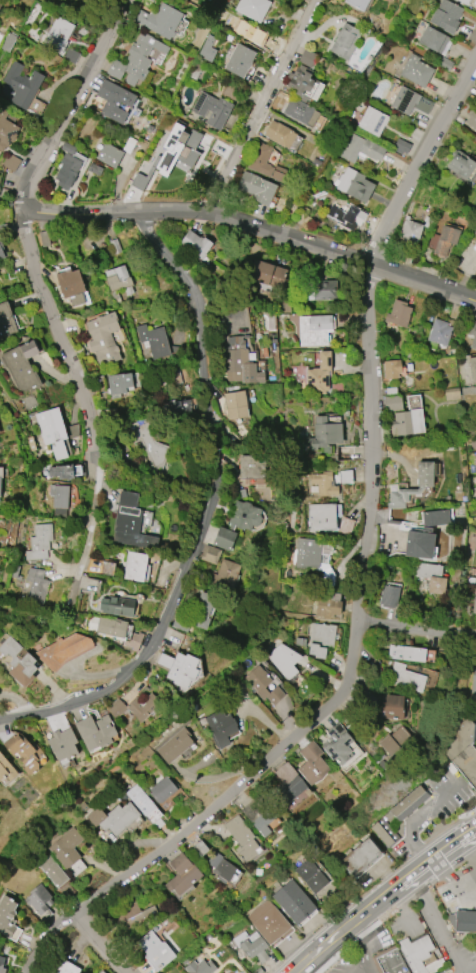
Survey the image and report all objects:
building: (463, 1)
building: (0, 4)
building: (357, 4)
building: (252, 8)
building: (446, 16)
building: (159, 20)
building: (57, 34)
building: (433, 39)
building: (344, 41)
building: (7, 42)
building: (270, 43)
building: (207, 48)
building: (307, 58)
building: (136, 59)
building: (239, 60)
building: (416, 70)
building: (302, 82)
building: (21, 84)
building: (404, 100)
building: (114, 101)
road: (69, 102)
road: (268, 107)
building: (211, 109)
building: (300, 112)
building: (471, 117)
building: (372, 121)
building: (6, 130)
building: (279, 134)
building: (360, 149)
building: (177, 150)
building: (109, 155)
building: (10, 162)
building: (263, 162)
building: (460, 164)
building: (95, 169)
building: (67, 170)
building: (139, 181)
building: (354, 185)
building: (256, 187)
road: (11, 209)
building: (346, 216)
road: (254, 227)
building: (409, 231)
building: (443, 240)
building: (195, 244)
building: (2, 252)
building: (267, 273)
building: (118, 283)
building: (70, 286)
building: (322, 290)
building: (398, 313)
building: (6, 321)
road: (367, 325)
building: (314, 329)
building: (439, 332)
building: (472, 333)
building: (103, 338)
building: (153, 341)
building: (238, 362)
building: (21, 366)
building: (392, 368)
building: (472, 369)
building: (319, 373)
building: (119, 383)
road: (82, 387)
building: (451, 394)
building: (392, 403)
building: (235, 405)
building: (408, 422)
building: (52, 431)
building: (324, 434)
building: (149, 447)
building: (475, 458)
building: (251, 467)
building: (60, 471)
building: (425, 474)
building: (346, 476)
building: (325, 484)
building: (0, 487)
building: (60, 500)
road: (210, 510)
building: (323, 516)
building: (436, 517)
building: (237, 521)
building: (130, 522)
building: (40, 542)
building: (419, 544)
building: (308, 553)
building: (211, 554)
building: (136, 567)
building: (432, 575)
building: (227, 576)
building: (37, 587)
building: (389, 596)
building: (329, 606)
building: (116, 607)
building: (475, 607)
building: (203, 611)
building: (112, 627)
road: (417, 630)
building: (321, 639)
building: (134, 640)
building: (63, 650)
building: (407, 653)
building: (18, 659)
building: (284, 660)
road: (474, 660)
building: (179, 669)
building: (406, 678)
building: (263, 685)
building: (472, 686)
building: (135, 707)
building: (392, 707)
parking lot: (475, 725)
building: (221, 728)
building: (96, 731)
building: (394, 740)
building: (63, 744)
building: (176, 745)
building: (342, 745)
building: (460, 747)
building: (24, 752)
building: (312, 763)
building: (6, 770)
building: (289, 784)
building: (164, 788)
parking lot: (448, 789)
road: (207, 807)
building: (127, 812)
building: (261, 813)
building: (398, 815)
road: (417, 815)
road: (469, 833)
building: (243, 838)
building: (66, 848)
road: (447, 848)
road: (469, 852)
building: (361, 857)
building: (224, 869)
building: (53, 871)
building: (183, 874)
building: (312, 875)
road: (452, 880)
building: (39, 899)
building: (295, 901)
road: (402, 905)
road: (360, 913)
building: (7, 915)
building: (136, 915)
building: (269, 921)
building: (465, 921)
road: (437, 923)
road: (366, 931)
road: (98, 944)
building: (252, 945)
road: (355, 950)
building: (155, 951)
building: (410, 956)
parking lot: (345, 963)
building: (2, 965)
parking lot: (462, 965)
building: (200, 967)
building: (68, 968)
road: (358, 970)
road: (470, 970)
building: (102, 972)

